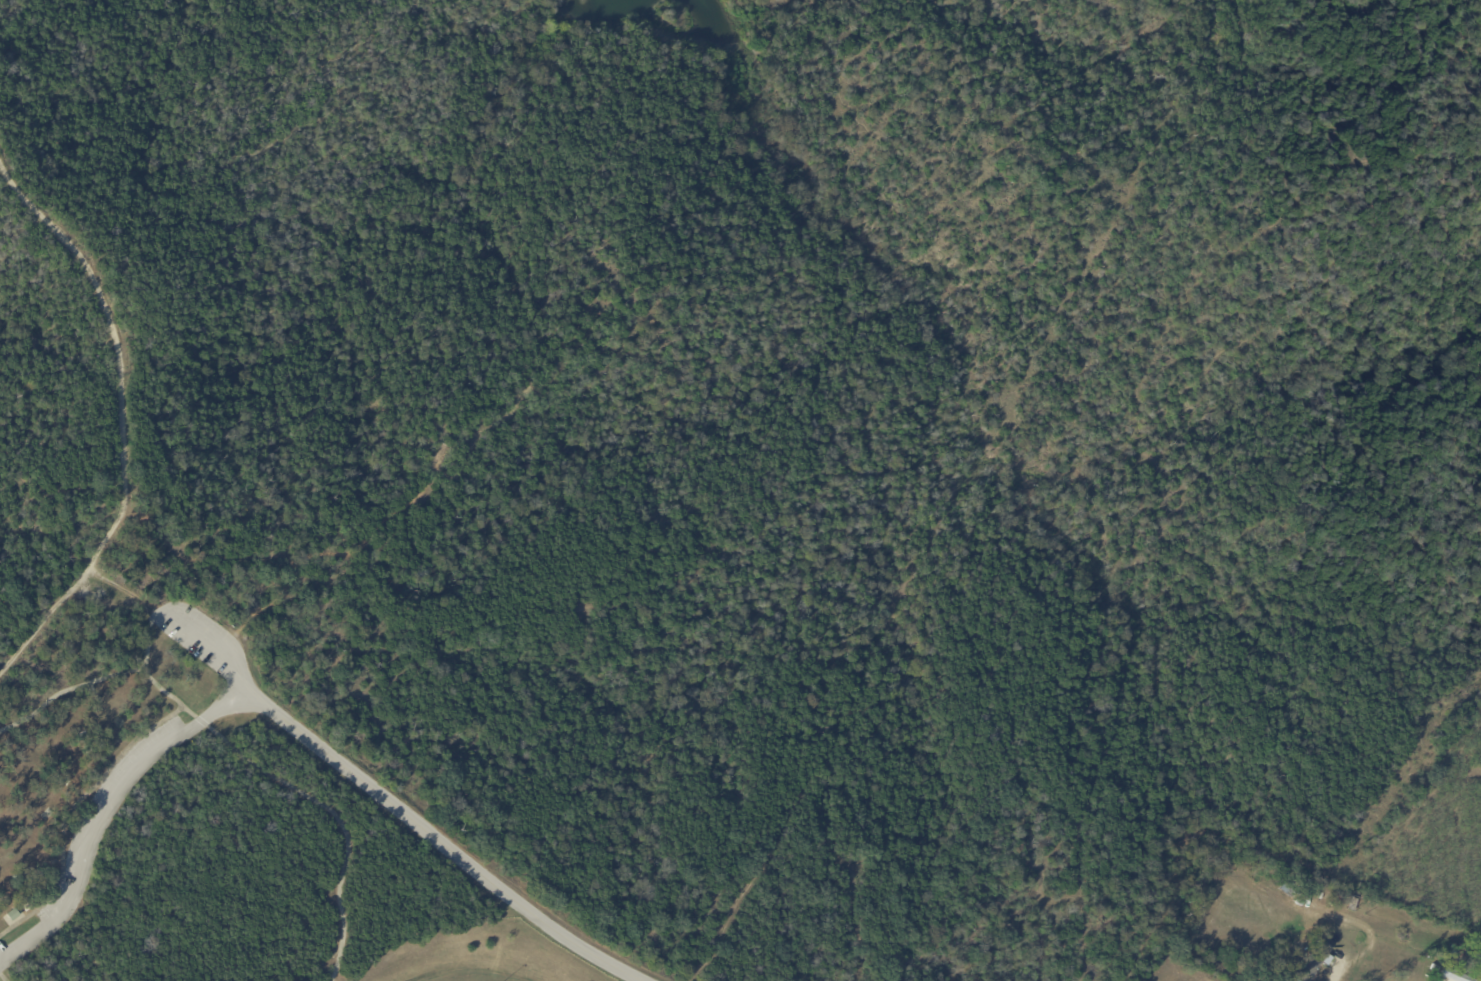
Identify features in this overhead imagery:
road: (992, 161)
road: (1308, 185)
road: (265, 336)
road: (120, 391)
park: (673, 464)
road: (334, 555)
road: (43, 618)
parking lot: (195, 635)
road: (211, 647)
road: (96, 681)
road: (307, 795)
road: (69, 812)
road: (103, 812)
parking lot: (105, 821)
road: (440, 847)
building: (1323, 899)
building: (1355, 907)
building: (16, 916)
building: (1465, 959)
parking lot: (4, 962)
building: (1314, 962)
building: (1435, 968)
road: (1335, 971)
building: (1455, 975)
road: (2, 979)

